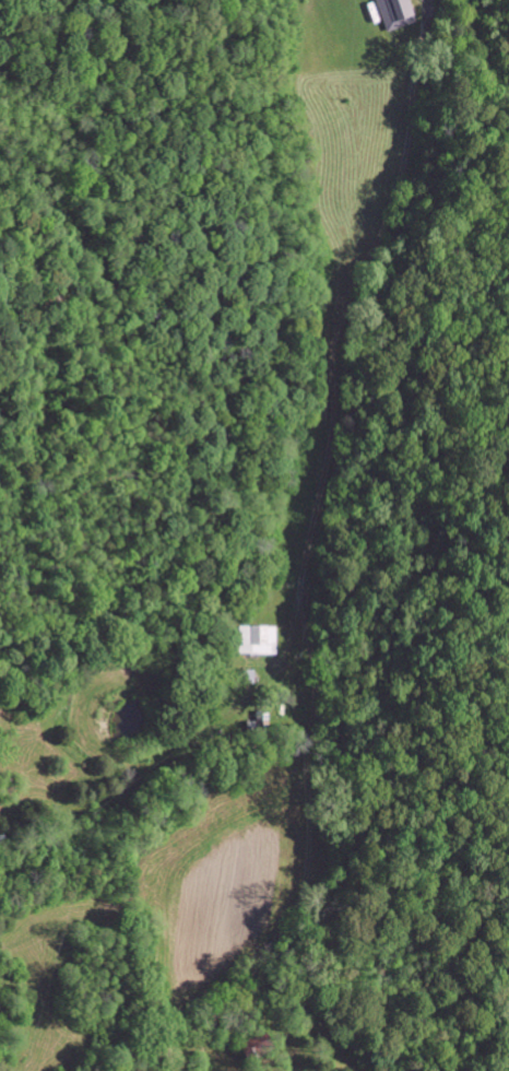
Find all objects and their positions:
building: (398, 13)
road: (327, 351)
building: (257, 642)

